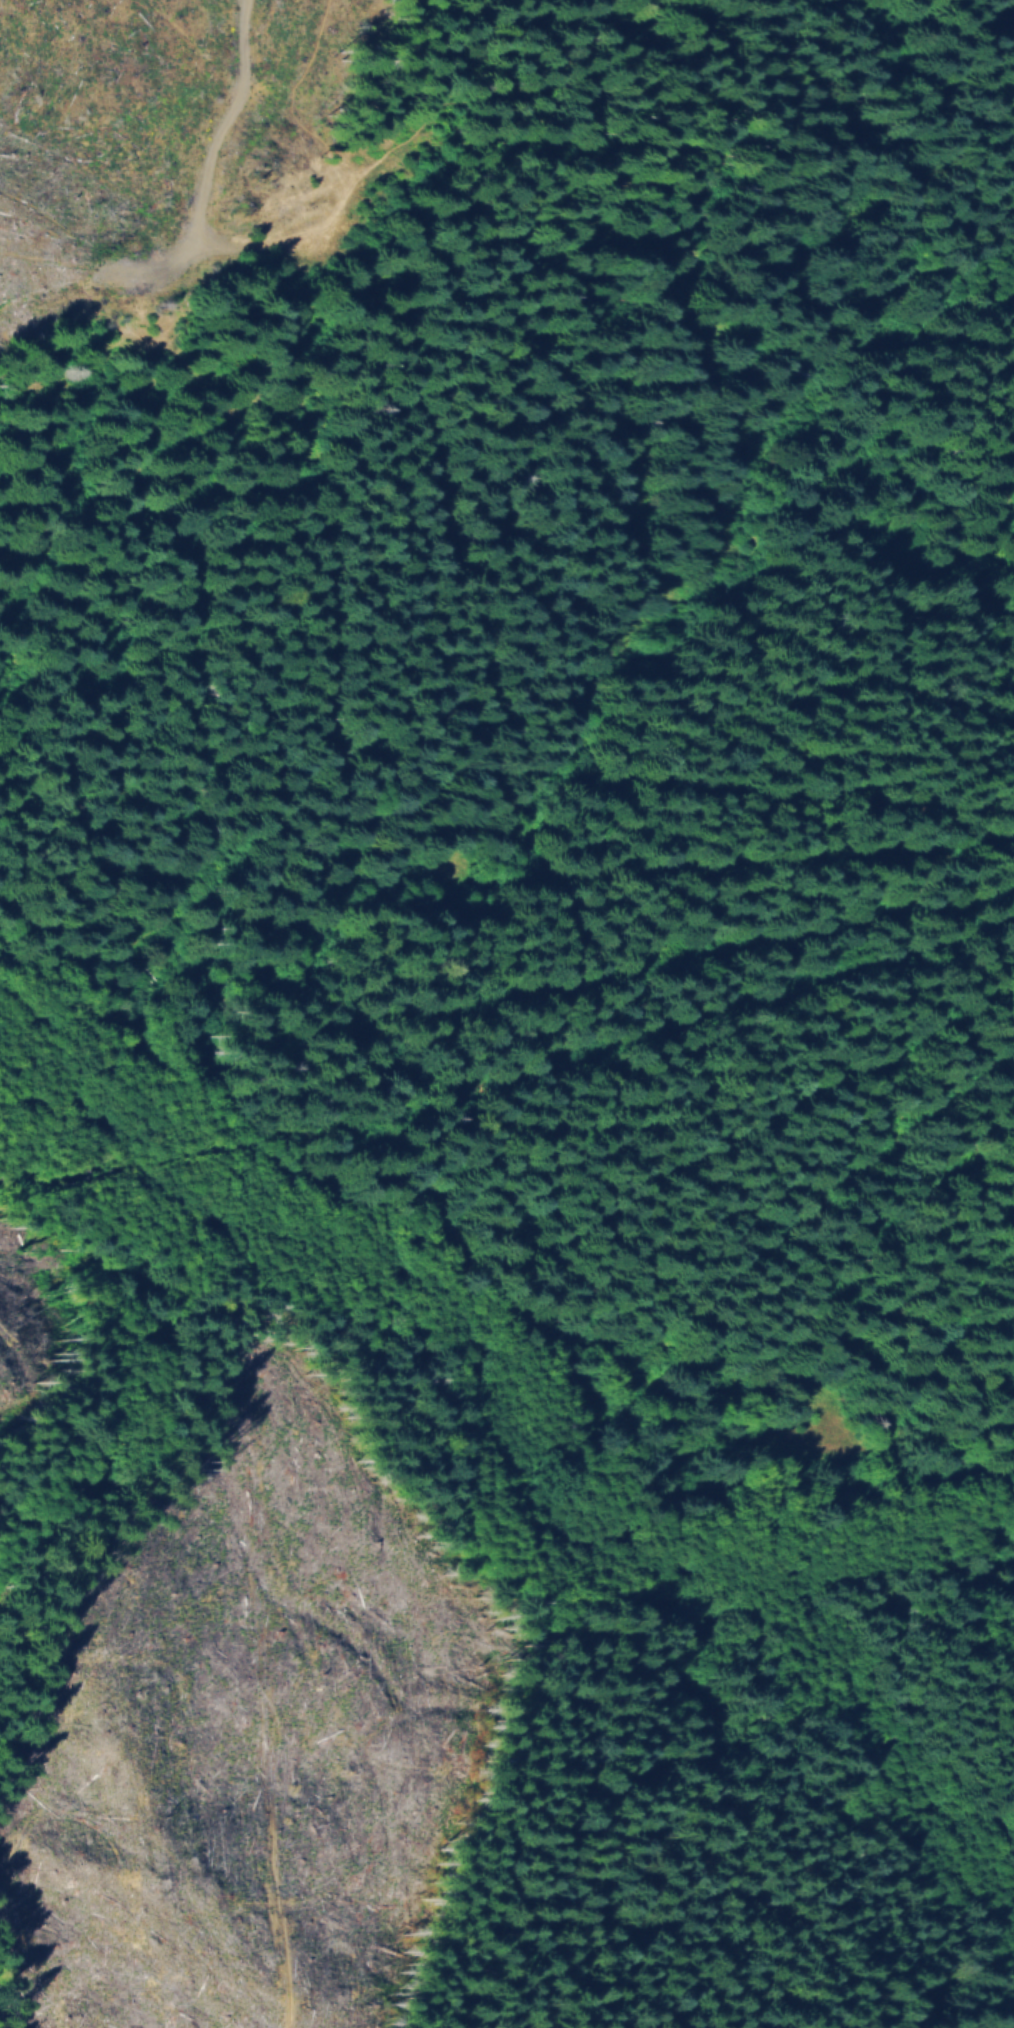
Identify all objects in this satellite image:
road: (200, 203)
road: (475, 1276)
river: (444, 1395)

